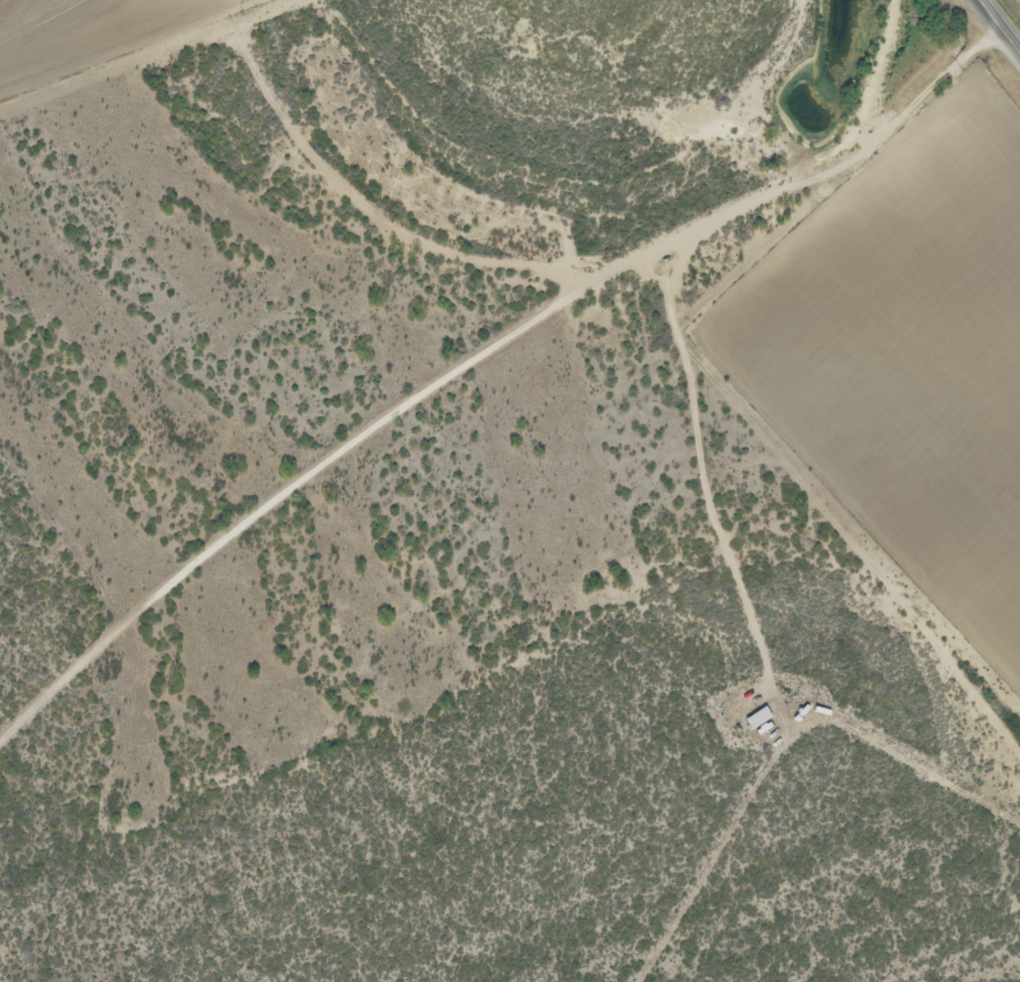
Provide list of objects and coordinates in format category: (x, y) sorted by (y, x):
road: (1000, 25)
road: (301, 169)
road: (719, 364)
road: (255, 534)
building: (756, 718)

